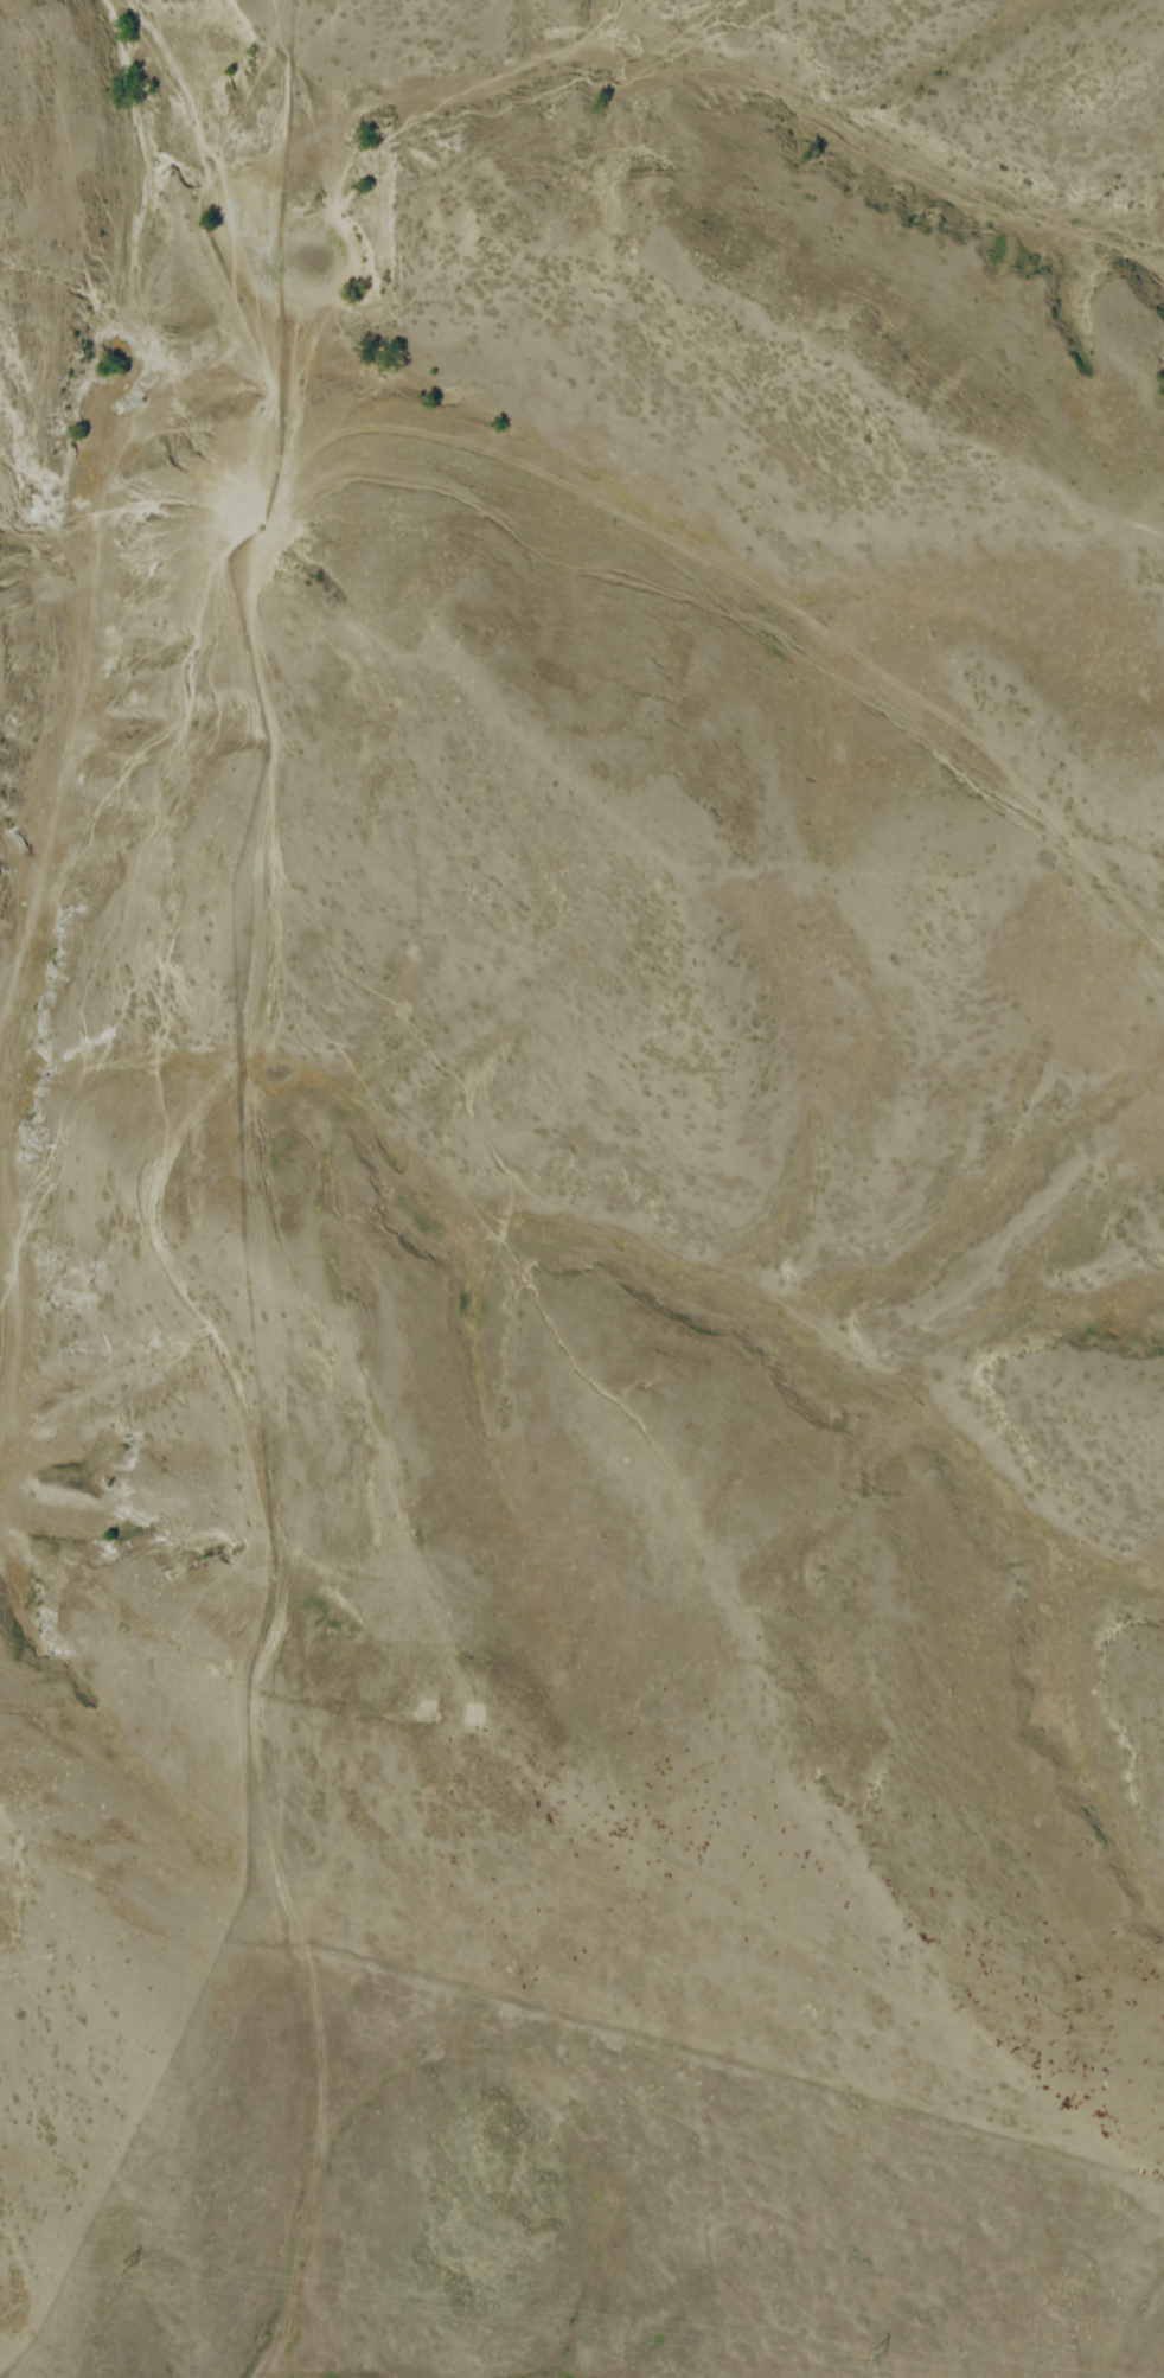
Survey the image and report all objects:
power tower: (122, 2269)
power tower: (871, 2358)

